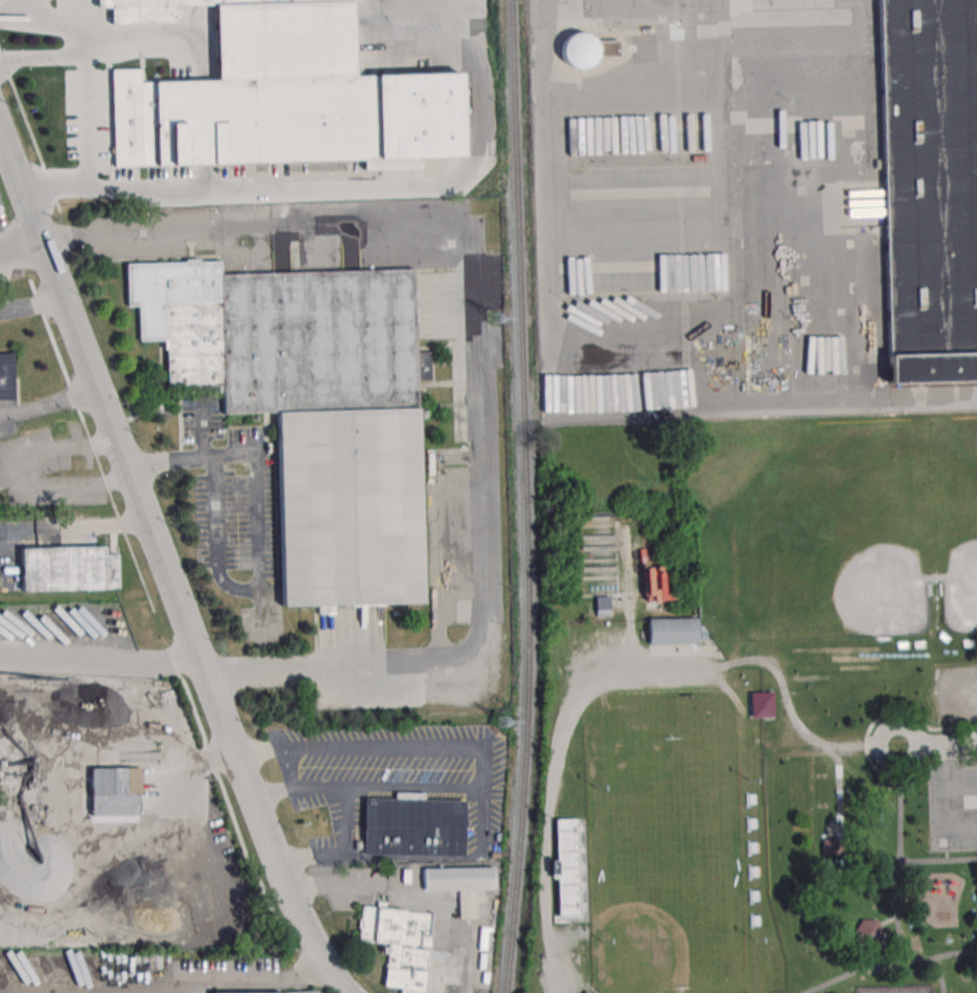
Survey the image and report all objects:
road: (43, 20)
building: (588, 50)
road: (44, 58)
building: (279, 94)
road: (87, 144)
building: (930, 187)
road: (303, 222)
road: (16, 228)
power tower: (495, 320)
building: (6, 377)
road: (48, 403)
building: (310, 407)
road: (201, 429)
road: (64, 450)
road: (68, 488)
railway: (540, 497)
park: (964, 514)
road: (72, 527)
park: (817, 533)
road: (259, 538)
building: (67, 568)
road: (163, 571)
road: (478, 628)
building: (672, 630)
road: (97, 664)
parking lot: (956, 695)
building: (761, 703)
park: (760, 707)
power tower: (502, 721)
road: (797, 723)
road: (937, 743)
road: (484, 759)
road: (552, 763)
road: (288, 766)
road: (963, 785)
building: (115, 791)
road: (838, 795)
road: (950, 798)
parking lot: (953, 804)
building: (413, 827)
building: (831, 846)
road: (339, 849)
park: (664, 854)
road: (900, 858)
building: (460, 885)
road: (896, 911)
road: (888, 921)
building: (867, 931)
building: (399, 944)
road: (953, 953)
parking lot: (564, 961)
road: (884, 964)
road: (254, 980)
park: (896, 989)
building: (317, 992)
building: (585, 992)

